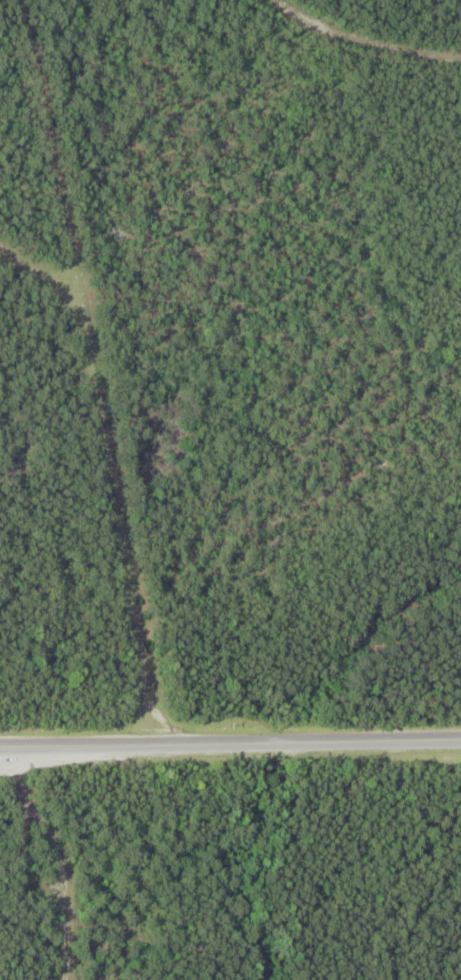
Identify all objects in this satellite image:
road: (230, 738)

